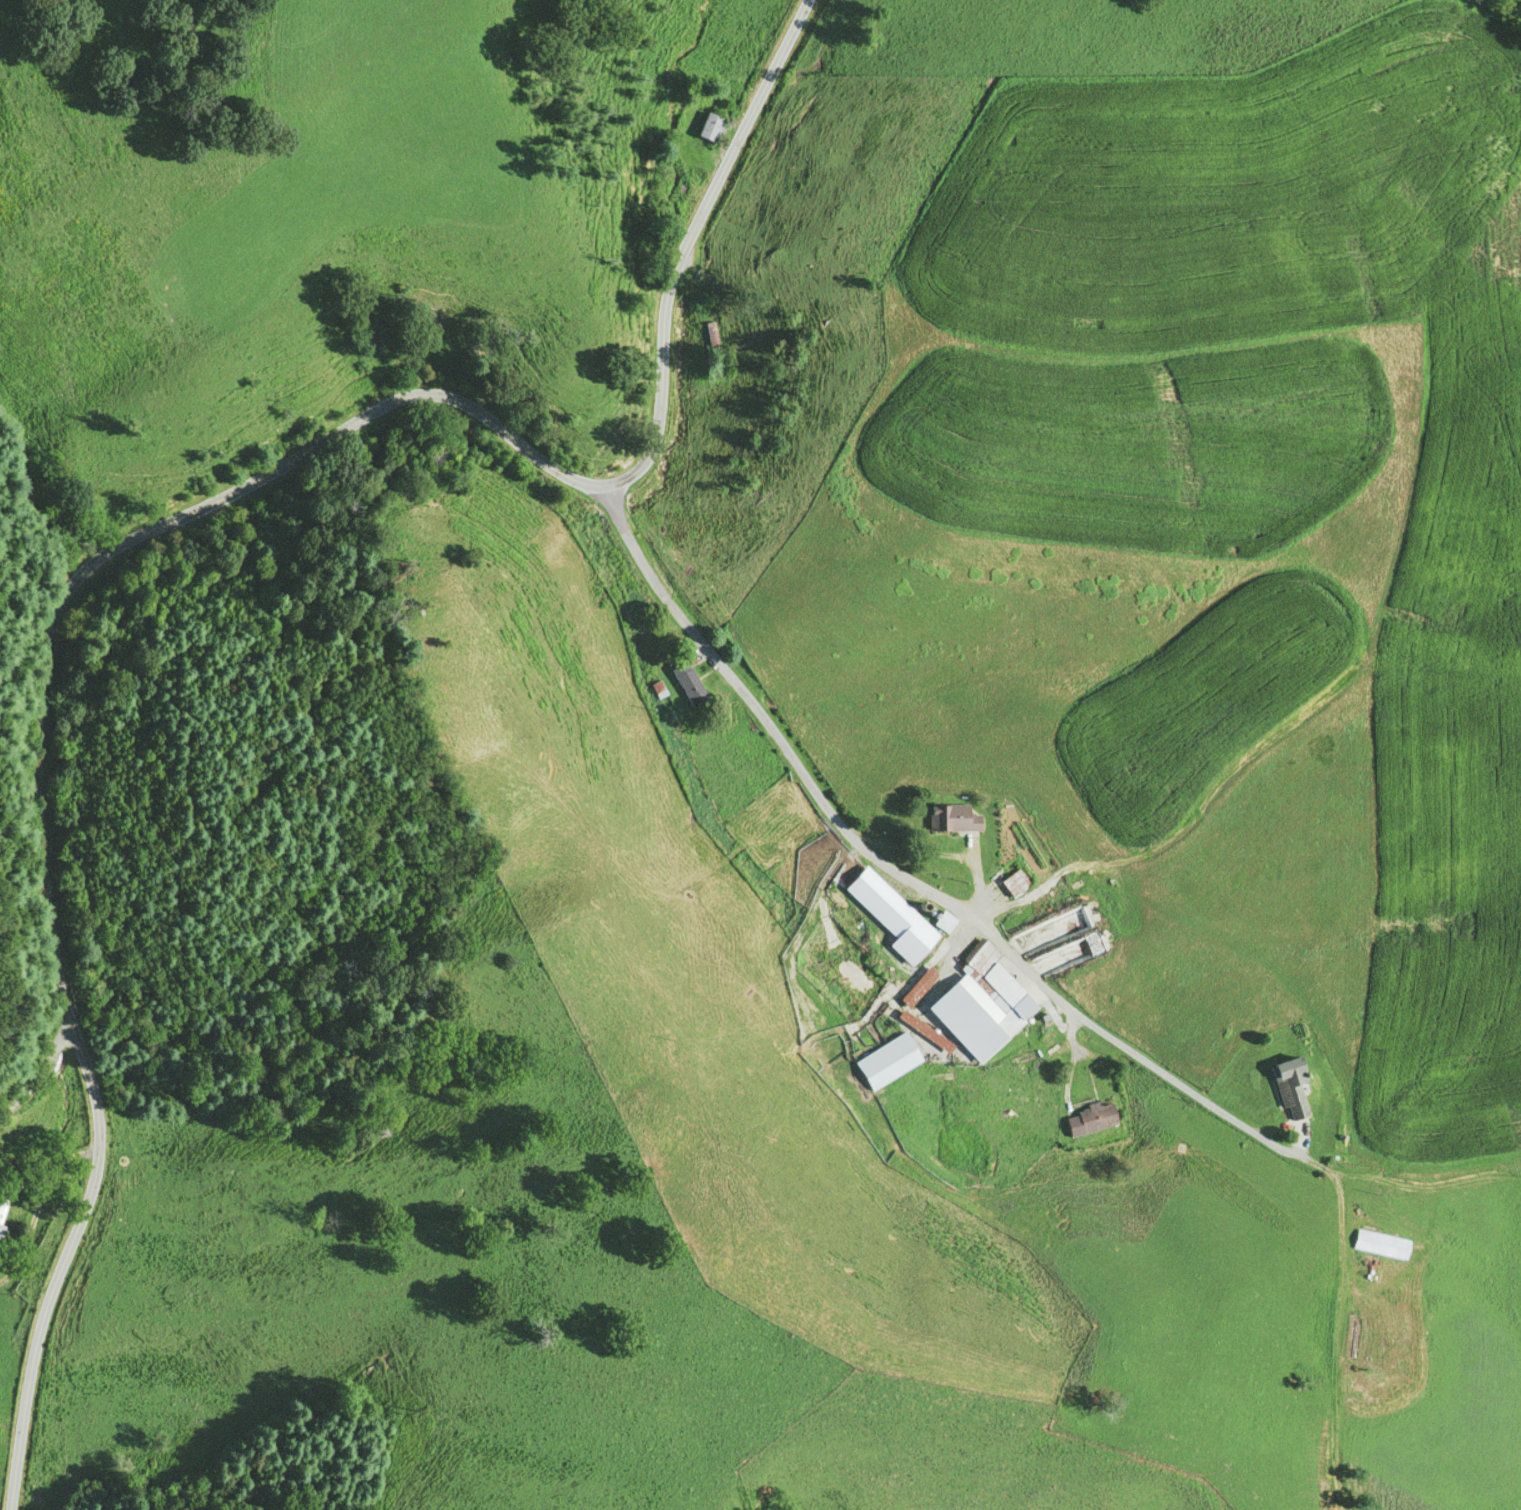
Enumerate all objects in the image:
building: (710, 126)
building: (711, 337)
road: (425, 396)
building: (689, 682)
building: (954, 817)
building: (1014, 881)
road: (914, 884)
building: (895, 932)
building: (968, 1006)
building: (887, 1060)
road: (40, 1070)
building: (1292, 1086)
building: (1090, 1119)
building: (3, 1205)
road: (81, 1218)
building: (1381, 1244)

